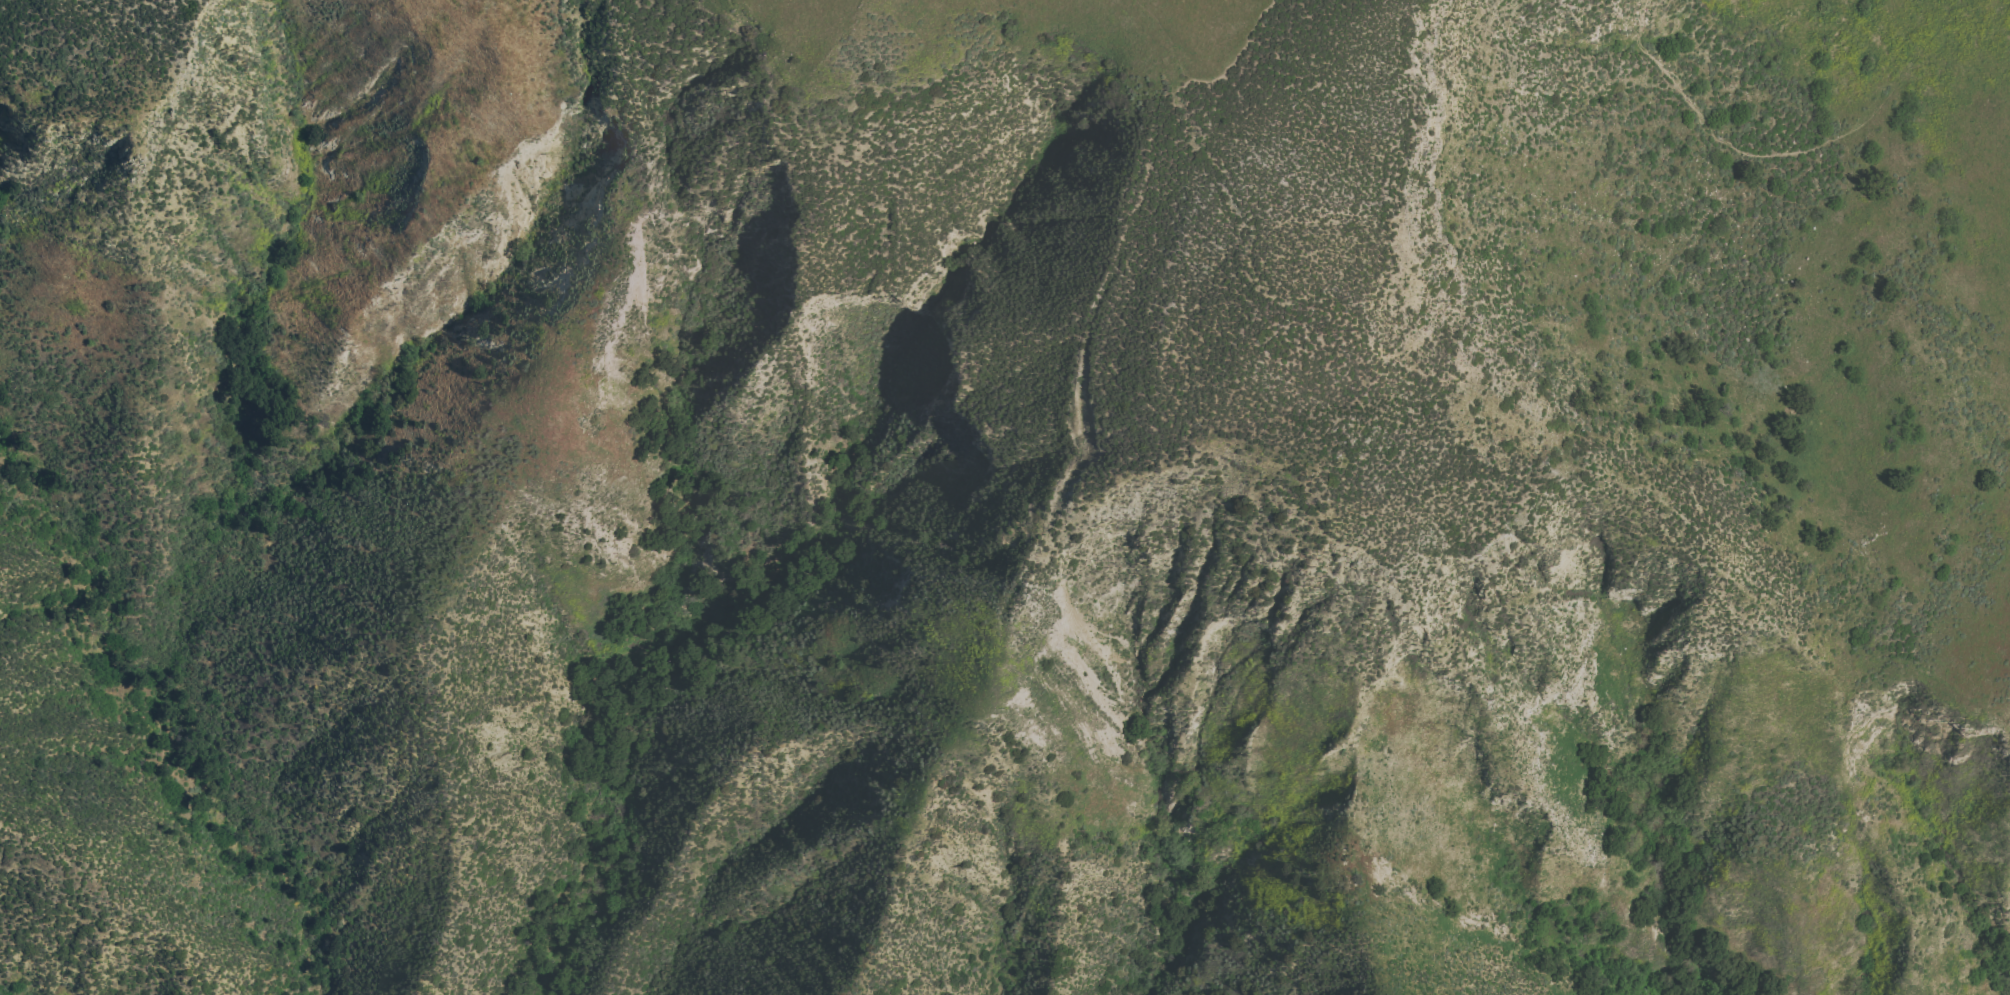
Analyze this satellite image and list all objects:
road: (1808, 149)

